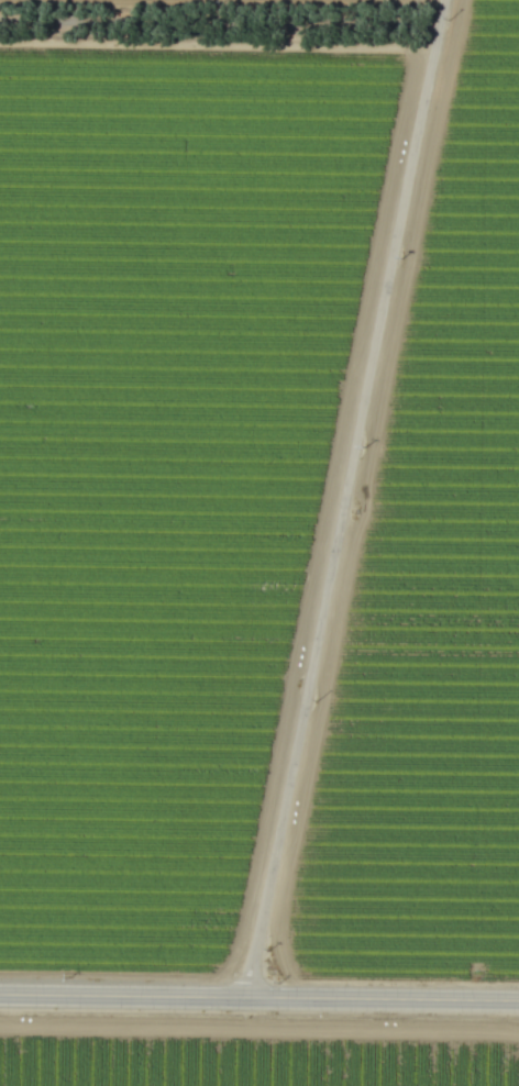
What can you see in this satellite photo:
road: (218, 43)
road: (345, 499)
road: (258, 999)

